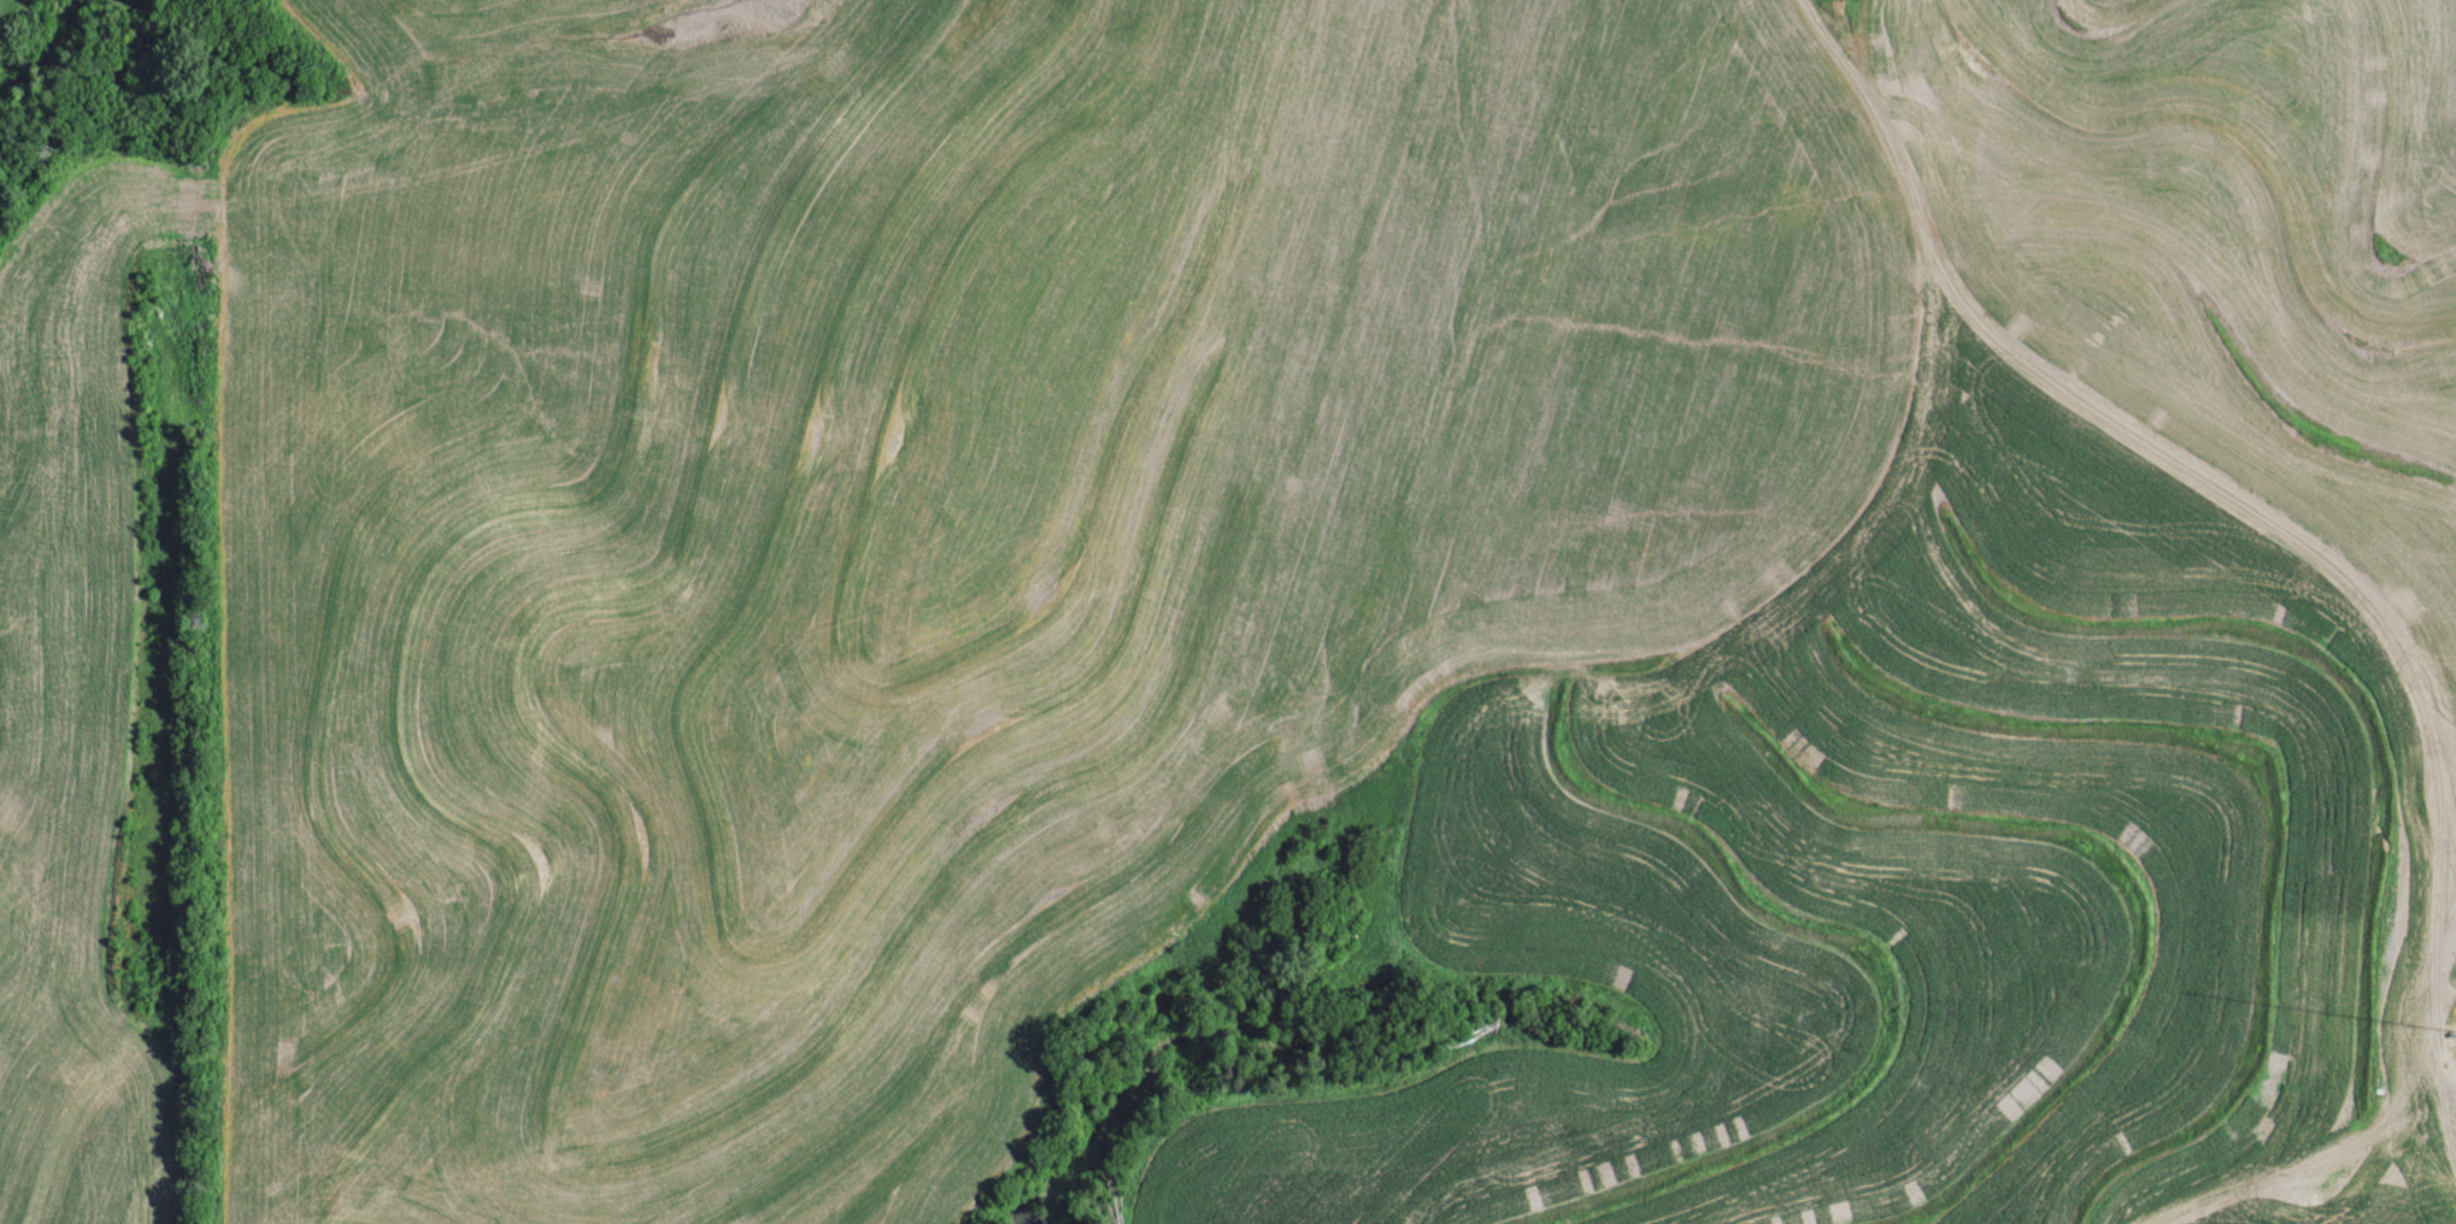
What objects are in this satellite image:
wind turbine: (2450, 1026)

